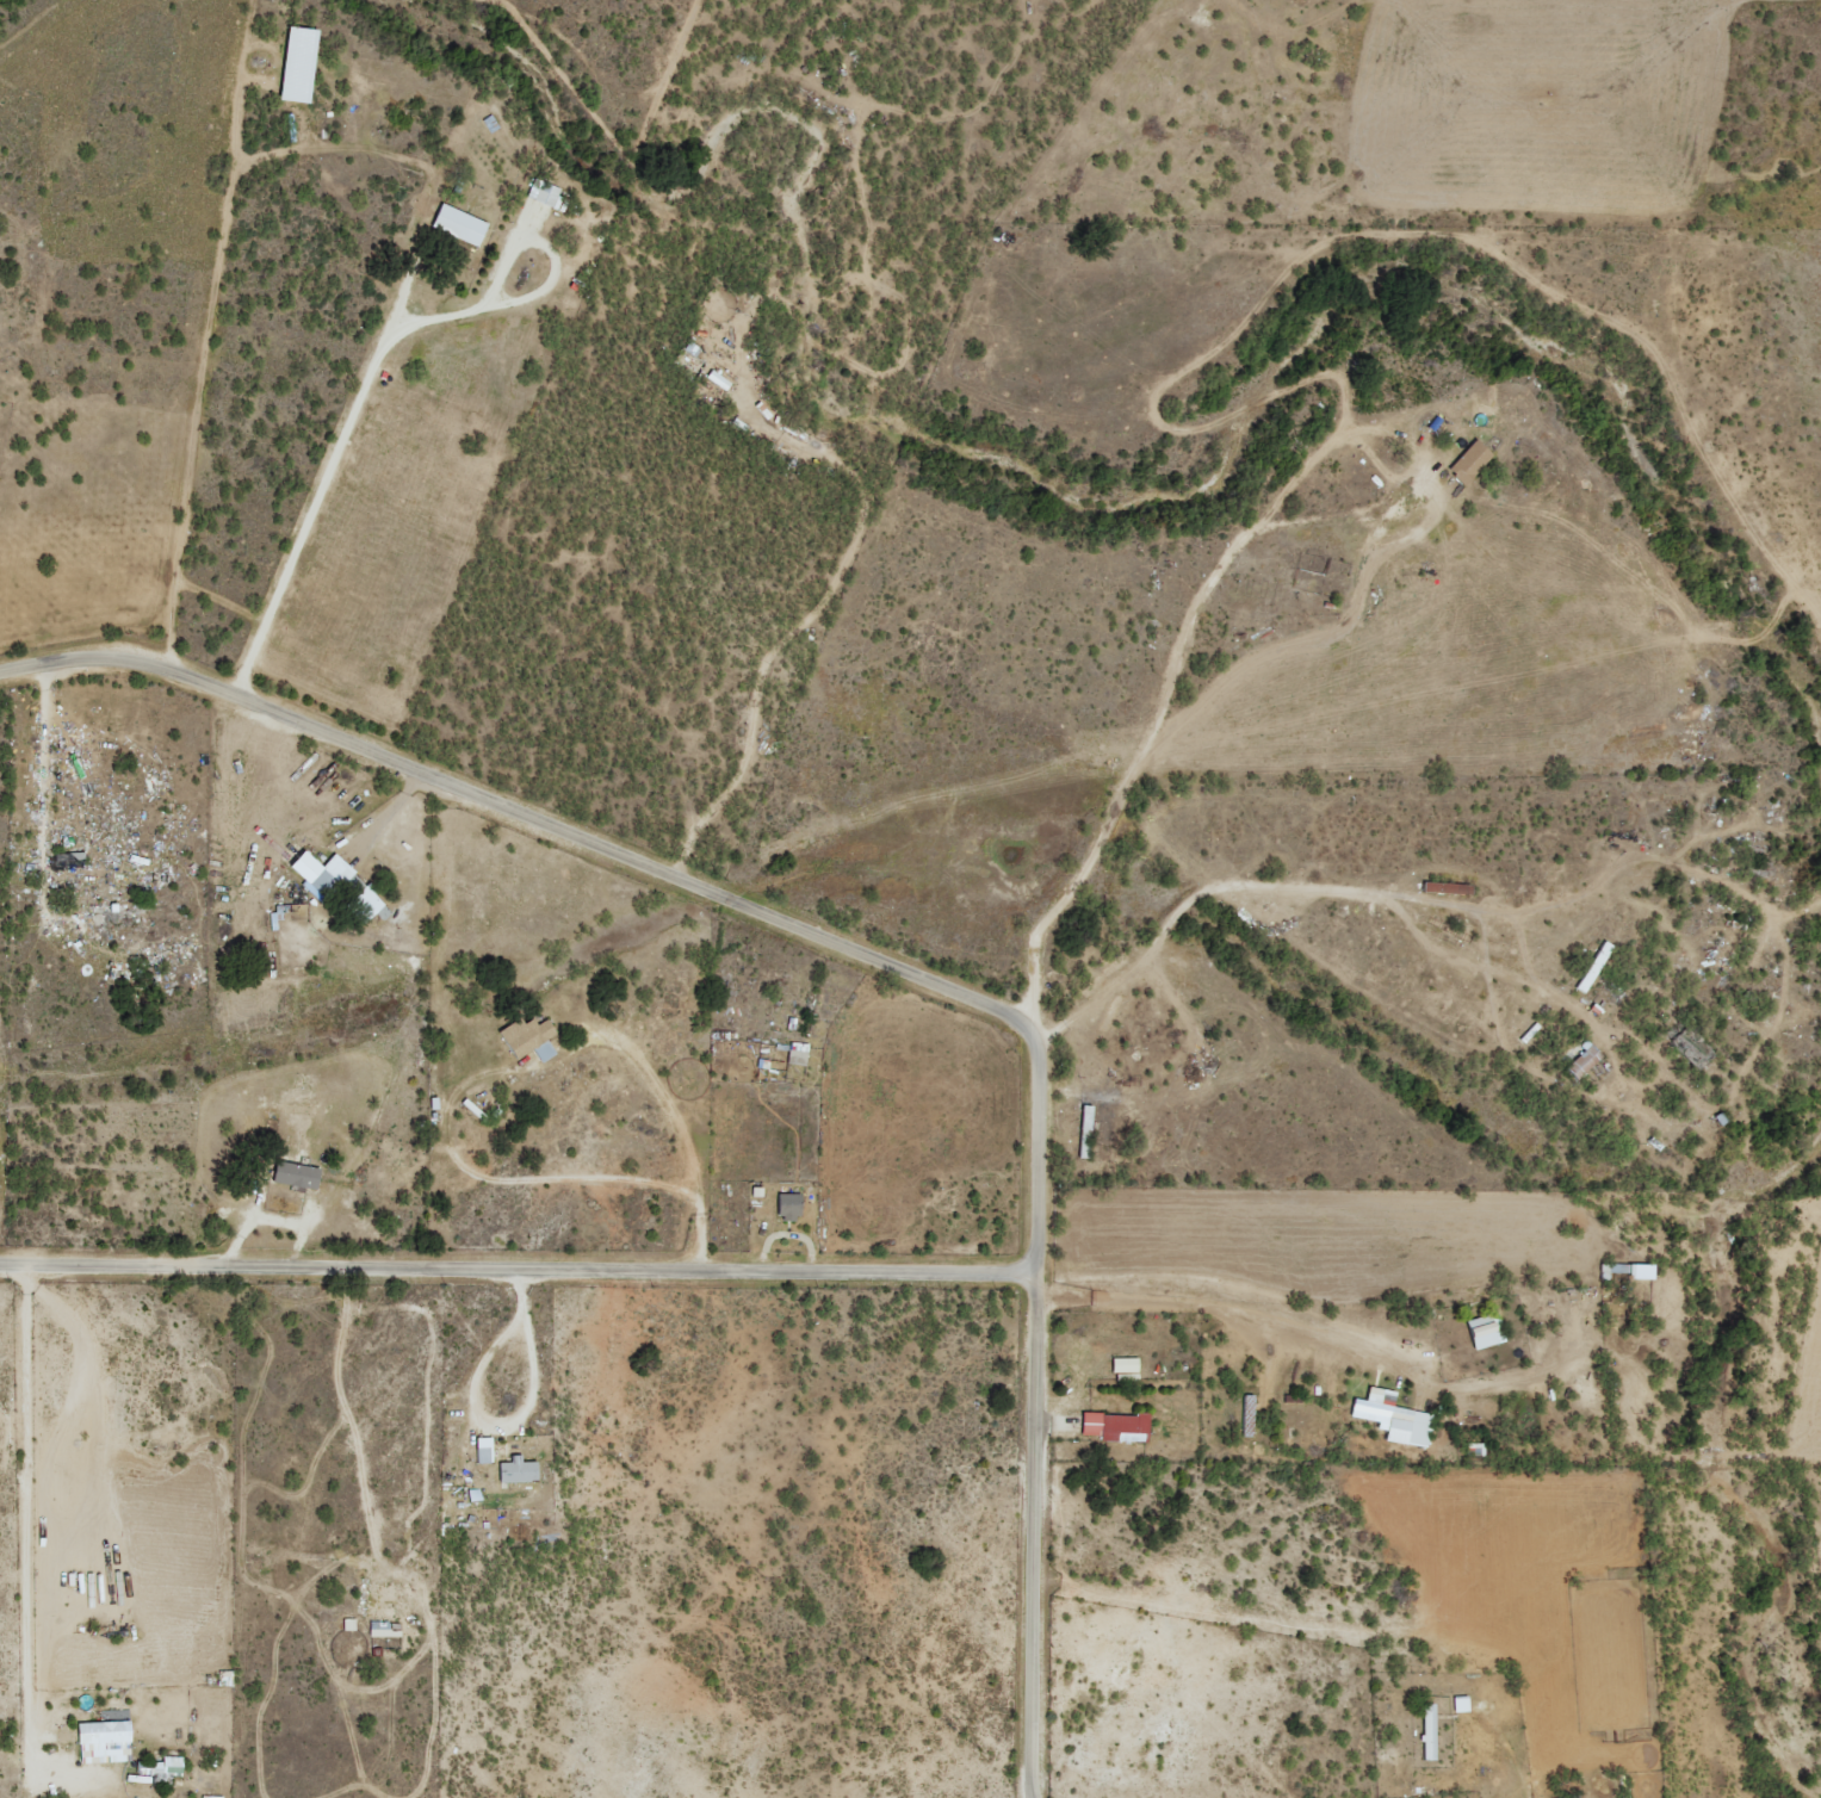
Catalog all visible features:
building: (297, 63)
building: (544, 193)
building: (458, 224)
building: (718, 379)
building: (1469, 461)
building: (336, 883)
road: (880, 954)
building: (529, 1038)
building: (797, 1054)
building: (1582, 1062)
building: (1086, 1116)
building: (296, 1176)
building: (788, 1207)
road: (513, 1269)
building: (1640, 1271)
building: (1481, 1332)
building: (1125, 1364)
building: (1393, 1418)
building: (1115, 1426)
building: (483, 1451)
building: (516, 1471)
building: (516, 1532)
building: (384, 1630)
building: (1461, 1705)
building: (1429, 1731)
building: (104, 1742)
building: (166, 1767)
building: (211, 1797)

